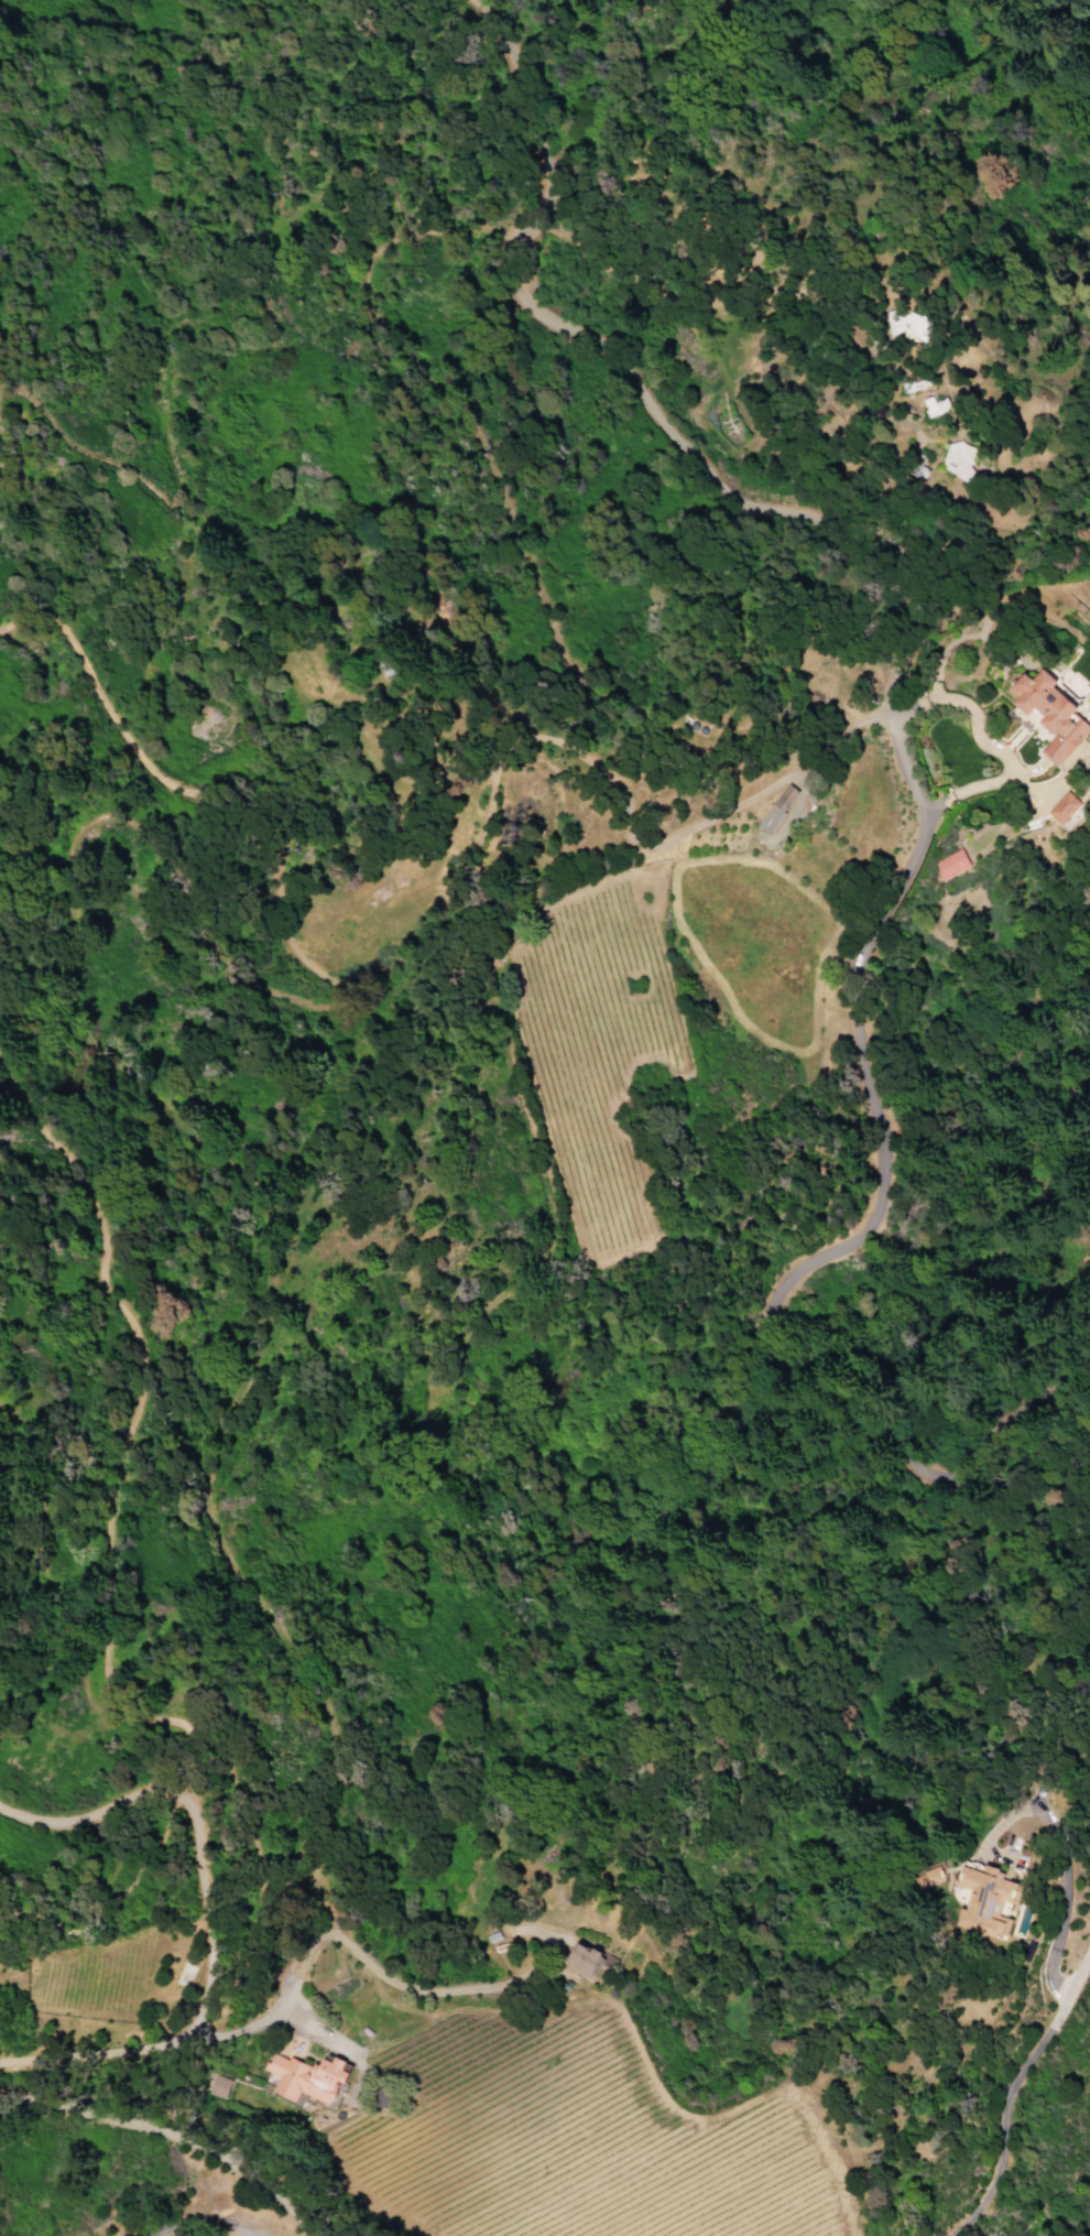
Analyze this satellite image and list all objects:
building: (957, 463)
park: (1089, 610)
building: (1048, 713)
building: (1083, 713)
road: (972, 731)
road: (981, 783)
road: (763, 785)
road: (918, 804)
building: (1062, 807)
building: (774, 810)
road: (784, 819)
building: (949, 864)
road: (195, 1813)
road: (1057, 1843)
building: (993, 1907)
building: (580, 1960)
road: (366, 1962)
road: (285, 1968)
crop: (91, 1982)
road: (282, 2014)
building: (307, 2076)
road: (1007, 2087)
road: (22, 2103)
crop: (504, 2113)
road: (98, 2114)
road: (194, 2218)

